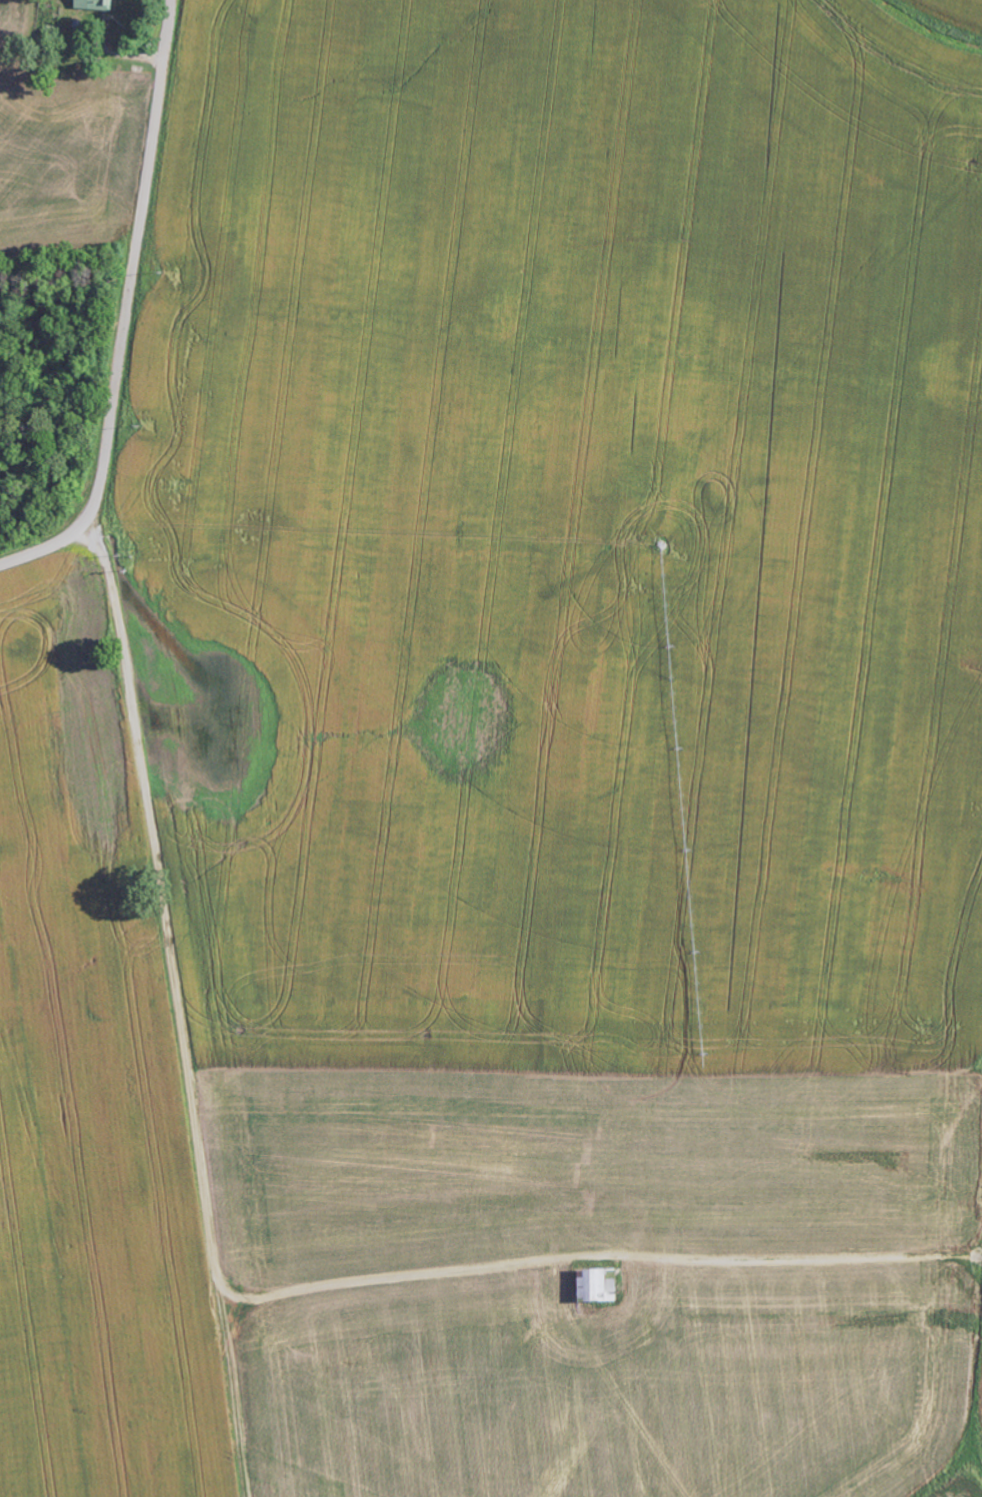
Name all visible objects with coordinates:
building: (97, 5)
road: (130, 311)
road: (193, 1007)
building: (599, 1283)
road: (621, 1313)

